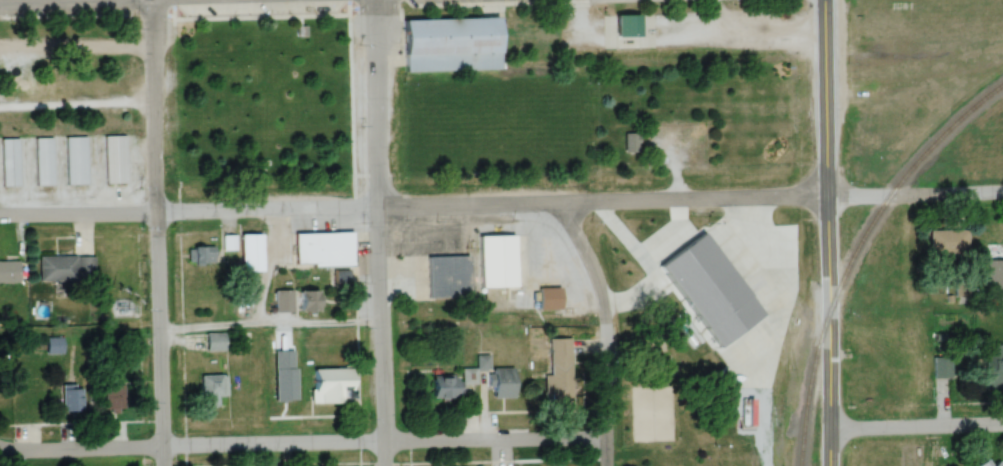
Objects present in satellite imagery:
building: (628, 23)
building: (452, 44)
road: (151, 50)
road: (828, 80)
road: (76, 103)
park: (262, 103)
park: (598, 124)
road: (154, 139)
building: (631, 141)
building: (115, 159)
building: (76, 160)
building: (43, 161)
building: (9, 162)
road: (491, 168)
road: (915, 193)
road: (423, 206)
road: (9, 214)
road: (379, 232)
building: (948, 242)
building: (323, 248)
railway: (856, 250)
building: (251, 252)
building: (204, 254)
building: (497, 261)
building: (66, 268)
building: (9, 271)
building: (447, 277)
building: (340, 279)
building: (549, 298)
building: (284, 300)
building: (310, 300)
road: (828, 313)
road: (988, 313)
road: (158, 321)
road: (604, 330)
road: (270, 331)
building: (214, 342)
building: (54, 345)
building: (483, 363)
building: (993, 366)
building: (559, 367)
building: (941, 367)
building: (503, 383)
building: (452, 384)
building: (332, 385)
building: (212, 389)
building: (285, 390)
building: (113, 398)
park: (676, 398)
building: (71, 399)
road: (915, 430)
road: (306, 442)
road: (4, 448)
building: (991, 463)

